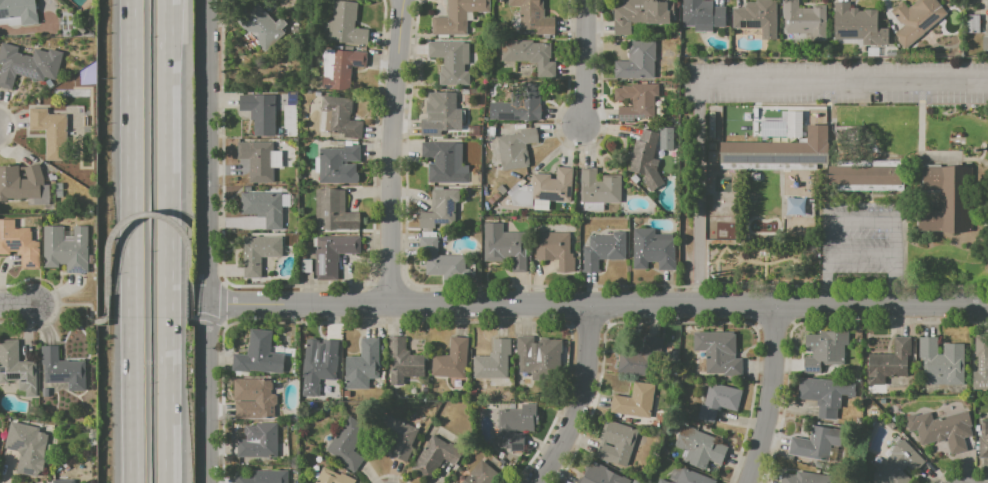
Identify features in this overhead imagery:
building: (19, 11)
building: (702, 15)
building: (458, 16)
building: (640, 16)
building: (534, 17)
building: (804, 18)
building: (757, 19)
building: (917, 19)
building: (346, 26)
building: (857, 26)
building: (263, 28)
building: (987, 32)
building: (527, 55)
building: (637, 60)
building: (451, 61)
road: (583, 61)
building: (27, 64)
building: (343, 69)
road: (692, 84)
road: (843, 84)
building: (636, 101)
building: (521, 105)
building: (259, 113)
building: (441, 114)
building: (342, 118)
building: (783, 125)
building: (51, 132)
road: (921, 143)
building: (778, 150)
road: (392, 152)
building: (511, 152)
building: (645, 159)
road: (972, 160)
building: (257, 161)
building: (446, 162)
building: (339, 164)
building: (865, 176)
building: (635, 179)
building: (21, 183)
building: (599, 187)
building: (544, 188)
road: (698, 194)
building: (945, 199)
building: (558, 204)
building: (795, 205)
building: (593, 206)
building: (262, 208)
building: (439, 209)
building: (334, 211)
road: (150, 214)
road: (862, 218)
road: (134, 241)
road: (170, 241)
road: (204, 241)
building: (20, 245)
building: (66, 249)
building: (506, 249)
building: (555, 249)
building: (603, 249)
building: (652, 249)
building: (259, 253)
building: (333, 254)
building: (441, 259)
road: (861, 259)
road: (826, 261)
road: (896, 261)
road: (222, 301)
road: (79, 304)
road: (16, 305)
road: (596, 305)
road: (207, 317)
road: (190, 321)
building: (823, 349)
building: (718, 352)
building: (259, 355)
building: (539, 355)
building: (451, 359)
building: (320, 360)
building: (493, 360)
building: (403, 362)
building: (942, 362)
building: (639, 363)
building: (888, 363)
building: (363, 364)
building: (980, 364)
building: (16, 368)
building: (63, 369)
road: (767, 394)
building: (824, 395)
building: (252, 398)
road: (581, 399)
building: (718, 400)
building: (632, 402)
building: (514, 426)
building: (941, 429)
building: (400, 436)
building: (983, 441)
building: (260, 442)
building: (348, 444)
building: (617, 444)
building: (815, 444)
building: (27, 447)
building: (699, 448)
building: (436, 457)
building: (897, 465)
building: (482, 474)
building: (600, 475)
building: (686, 476)
building: (263, 477)
building: (333, 477)
building: (804, 478)
building: (63, 481)

